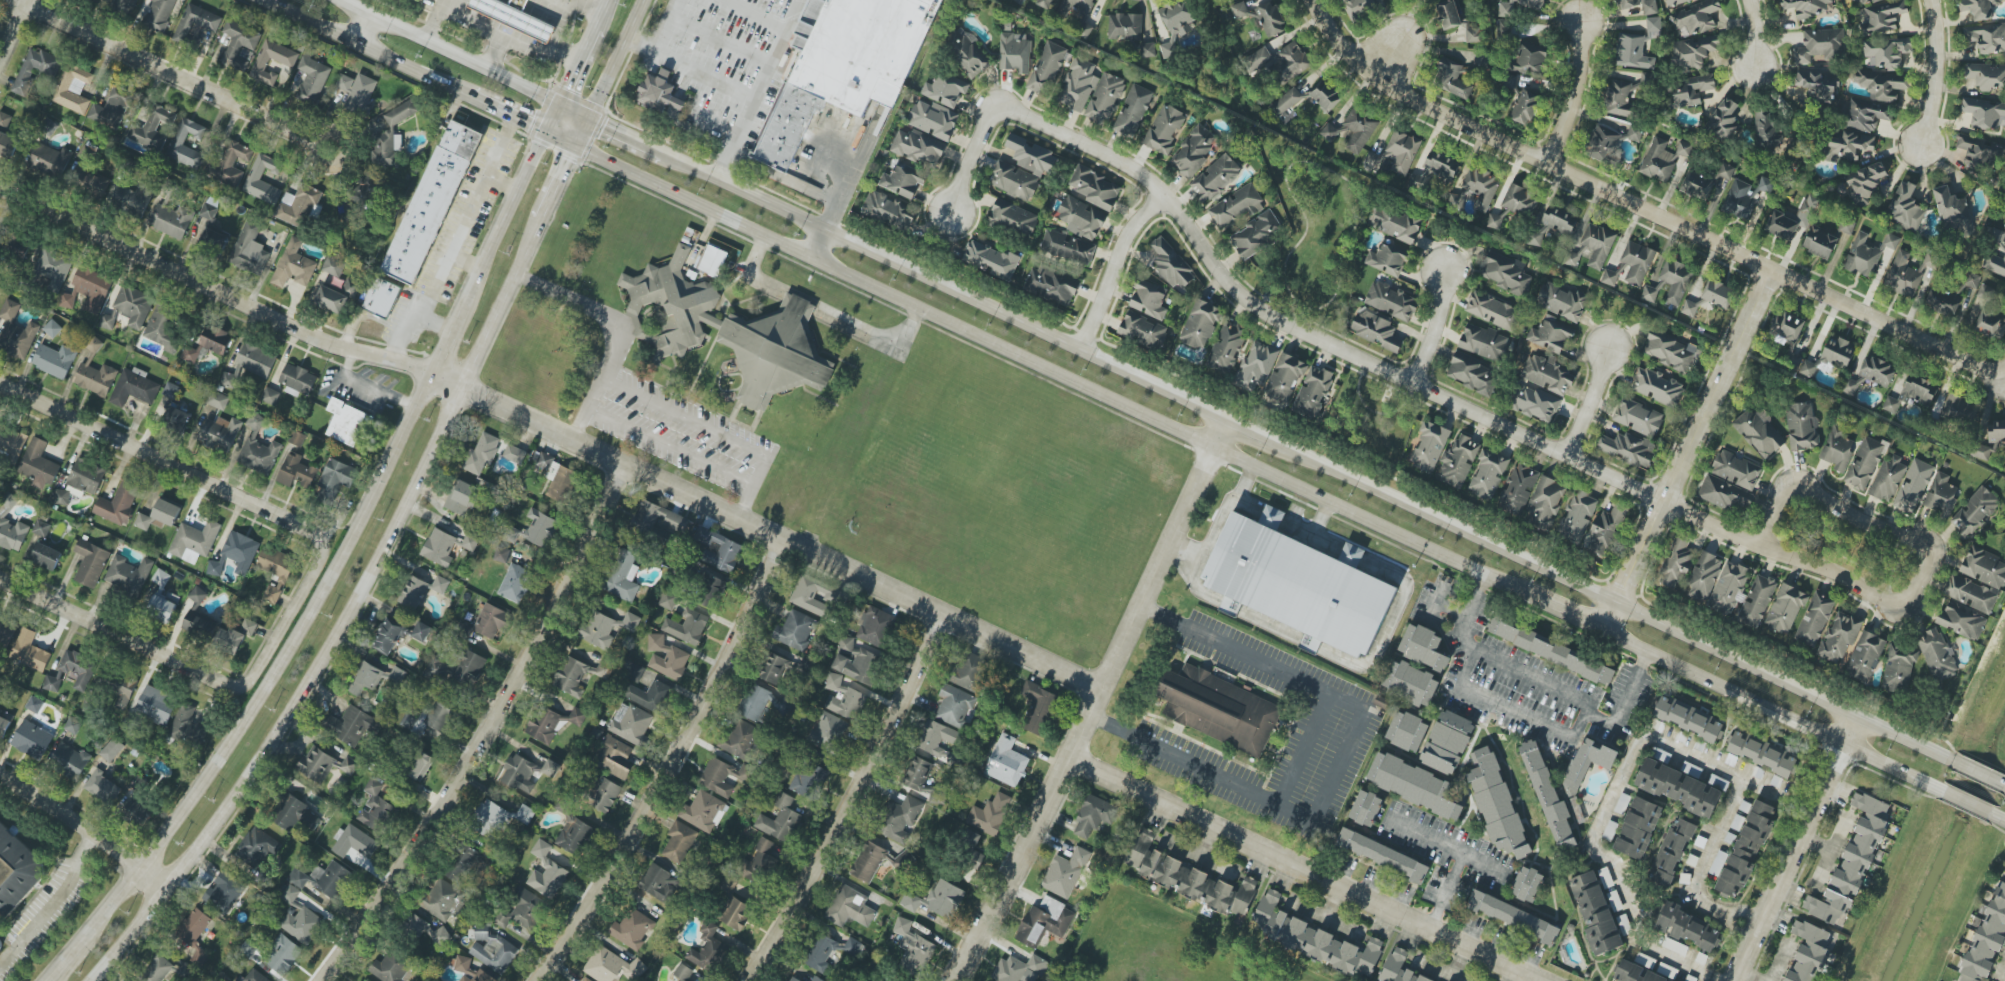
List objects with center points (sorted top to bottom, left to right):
building: (1018, 2)
building: (1675, 2)
building: (1861, 2)
building: (1044, 3)
building: (1627, 4)
building: (124, 6)
road: (587, 6)
building: (1507, 7)
building: (1649, 7)
building: (1805, 7)
building: (1077, 8)
building: (1360, 8)
building: (159, 14)
building: (1448, 14)
road: (755, 15)
building: (1261, 16)
building: (514, 17)
building: (1694, 18)
building: (1882, 18)
road: (435, 20)
building: (196, 22)
road: (668, 24)
road: (558, 25)
building: (1176, 26)
road: (12, 27)
road: (362, 28)
building: (1126, 28)
building: (1506, 28)
building: (1654, 28)
building: (1473, 34)
road: (1755, 34)
road: (510, 35)
building: (1989, 38)
road: (720, 40)
building: (239, 43)
building: (1819, 45)
road: (368, 48)
building: (1148, 49)
road: (494, 50)
road: (448, 51)
building: (1693, 51)
road: (583, 52)
building: (1015, 52)
road: (1396, 52)
building: (1633, 52)
building: (1886, 52)
building: (969, 56)
parking lot: (728, 59)
building: (1530, 59)
building: (1278, 62)
building: (288, 63)
road: (689, 65)
building: (843, 68)
building: (35, 69)
building: (1046, 69)
road: (163, 70)
road: (764, 73)
building: (1986, 75)
road: (1937, 77)
building: (312, 79)
building: (1453, 79)
building: (1510, 82)
building: (1881, 84)
building: (1077, 85)
building: (1817, 86)
building: (74, 88)
building: (945, 89)
building: (1691, 90)
building: (356, 91)
building: (660, 95)
building: (1325, 96)
road: (1577, 96)
building: (1620, 98)
building: (1105, 99)
traffic signals: (558, 104)
building: (1286, 105)
building: (1525, 107)
building: (111, 108)
road: (572, 110)
building: (1133, 111)
building: (1984, 112)
road: (508, 114)
building: (1865, 116)
traffic signals: (587, 117)
road: (551, 118)
building: (1723, 118)
building: (933, 119)
building: (1767, 128)
building: (1164, 129)
building: (1359, 129)
building: (1330, 131)
traffic signals: (545, 132)
building: (391, 135)
road: (625, 135)
building: (6, 137)
road: (559, 138)
building: (1609, 142)
building: (178, 143)
traffic signals: (574, 145)
building: (1848, 145)
building: (918, 147)
building: (1193, 150)
road: (312, 151)
building: (1400, 152)
building: (1978, 152)
building: (1662, 159)
building: (50, 161)
building: (232, 162)
road: (723, 163)
building: (1023, 168)
road: (1330, 171)
building: (1433, 171)
building: (1726, 171)
building: (254, 177)
building: (1215, 178)
building: (902, 181)
building: (96, 184)
road: (848, 185)
building: (1697, 185)
building: (1765, 185)
building: (1481, 186)
building: (1094, 187)
building: (130, 199)
building: (1520, 200)
building: (1738, 200)
building: (431, 202)
road: (1626, 202)
building: (1236, 207)
building: (1905, 207)
building: (209, 208)
building: (889, 211)
building: (1953, 211)
building: (1014, 218)
building: (1081, 218)
building: (1792, 219)
building: (172, 220)
building: (1396, 224)
building: (1552, 226)
building: (2004, 228)
park: (1313, 231)
building: (1256, 234)
road: (452, 238)
building: (214, 239)
building: (1819, 243)
road: (820, 244)
building: (1597, 244)
building: (1068, 247)
building: (249, 250)
building: (1866, 253)
building: (1996, 253)
building: (1573, 258)
building: (712, 260)
building: (991, 260)
building: (1387, 260)
building: (1637, 262)
building: (294, 265)
building: (1172, 265)
building: (334, 266)
building: (53, 268)
road: (1117, 270)
building: (1908, 272)
building: (1506, 275)
building: (1611, 276)
building: (1670, 283)
road: (944, 286)
building: (1050, 286)
building: (88, 289)
building: (1986, 292)
building: (1937, 293)
building: (1718, 294)
building: (336, 296)
building: (382, 297)
building: (1149, 300)
building: (1390, 301)
building: (1561, 301)
building: (129, 308)
road: (821, 310)
building: (1492, 310)
building: (1991, 322)
building: (1200, 324)
road: (624, 326)
building: (1787, 326)
building: (52, 328)
building: (163, 328)
road: (1436, 328)
building: (1142, 330)
building: (1376, 330)
building: (16, 332)
building: (730, 332)
building: (1550, 335)
building: (1483, 342)
building: (209, 343)
building: (95, 345)
building: (1226, 348)
building: (1671, 351)
building: (54, 360)
building: (250, 365)
building: (1255, 367)
building: (1807, 369)
road: (1987, 369)
building: (1473, 374)
road: (1059, 375)
building: (1547, 375)
building: (1870, 376)
building: (96, 379)
building: (1284, 379)
building: (297, 380)
road: (1415, 382)
road: (370, 384)
building: (1656, 387)
building: (134, 388)
building: (170, 390)
building: (1313, 392)
building: (1913, 393)
building: (270, 396)
building: (219, 400)
road: (1589, 403)
building: (1536, 404)
building: (1959, 409)
road: (1369, 410)
building: (1638, 418)
building: (177, 419)
park: (1366, 419)
building: (345, 422)
road: (707, 425)
building: (1801, 426)
road: (553, 430)
building: (1996, 431)
building: (1760, 432)
parking lot: (676, 433)
road: (1257, 433)
building: (220, 435)
building: (297, 438)
building: (11, 441)
building: (1430, 445)
building: (1628, 448)
building: (1837, 449)
road: (674, 451)
road: (1688, 451)
building: (1980, 451)
building: (481, 454)
building: (516, 454)
building: (259, 455)
building: (1457, 462)
building: (1864, 463)
building: (38, 465)
building: (1736, 470)
building: (296, 471)
building: (1488, 474)
building: (86, 478)
road: (200, 478)
building: (557, 478)
building: (335, 479)
building: (1887, 479)
building: (1913, 486)
building: (1519, 489)
building: (1725, 494)
building: (1940, 494)
building: (62, 497)
building: (461, 497)
road: (1822, 498)
building: (119, 503)
building: (1545, 503)
road: (747, 504)
road: (401, 511)
building: (1974, 512)
building: (160, 515)
building: (1577, 516)
building: (660, 520)
building: (11, 526)
building: (42, 529)
building: (1606, 529)
building: (534, 530)
building: (470, 542)
building: (439, 547)
building: (718, 549)
building: (236, 554)
building: (501, 555)
building: (46, 557)
building: (90, 563)
building: (1676, 563)
building: (1983, 567)
building: (276, 571)
building: (128, 574)
building: (1703, 576)
road: (329, 577)
building: (623, 577)
building: (515, 583)
building: (440, 584)
building: (1298, 584)
building: (1728, 588)
building: (709, 590)
building: (413, 592)
building: (1970, 593)
building: (198, 595)
building: (810, 596)
building: (668, 600)
road: (1432, 601)
building: (1757, 601)
road: (1615, 604)
building: (163, 606)
road: (1449, 608)
building: (1785, 609)
road: (1570, 616)
building: (1814, 619)
building: (492, 621)
building: (1962, 621)
building: (630, 622)
building: (199, 625)
building: (686, 626)
building: (875, 626)
building: (5, 630)
building: (598, 630)
building: (422, 631)
building: (795, 631)
building: (1839, 635)
building: (235, 636)
building: (388, 636)
building: (1423, 647)
building: (1550, 650)
building: (29, 651)
road: (157, 654)
building: (1938, 655)
building: (667, 657)
building: (1865, 657)
building: (857, 662)
building: (78, 668)
building: (436, 668)
building: (470, 668)
building: (1898, 669)
building: (775, 670)
building: (968, 670)
building: (635, 672)
building: (579, 674)
building: (374, 677)
building: (1410, 683)
building: (51, 684)
building: (122, 692)
building: (650, 696)
building: (843, 698)
building: (755, 702)
road: (1582, 702)
road: (1622, 702)
road: (1095, 703)
building: (34, 705)
building: (156, 705)
building: (954, 706)
building: (1038, 707)
road: (1765, 707)
building: (1219, 709)
building: (439, 715)
building: (1688, 719)
building: (552, 723)
building: (631, 723)
building: (185, 724)
building: (73, 725)
building: (349, 725)
building: (4, 726)
building: (1407, 731)
road: (489, 732)
building: (828, 732)
building: (937, 738)
building: (741, 739)
building: (32, 740)
building: (1447, 742)
building: (112, 750)
road: (1303, 750)
building: (1761, 754)
building: (1661, 755)
building: (614, 757)
building: (71, 758)
building: (1006, 762)
building: (1587, 763)
building: (316, 764)
building: (419, 765)
building: (349, 766)
road: (1339, 766)
road: (674, 767)
building: (551, 768)
building: (1691, 770)
road: (1975, 771)
building: (519, 773)
building: (724, 776)
building: (919, 777)
building: (809, 780)
building: (1413, 784)
building: (103, 787)
building: (1682, 788)
building: (605, 795)
building: (1549, 798)
road: (852, 801)
road: (1967, 802)
building: (138, 804)
building: (1497, 804)
building: (376, 807)
building: (1365, 808)
building: (703, 812)
road: (1604, 812)
building: (294, 814)
building: (990, 814)
building: (1094, 816)
building: (497, 818)
building: (899, 819)
road: (2002, 819)
building: (779, 820)
building: (1637, 828)
road: (85, 829)
building: (574, 835)
building: (354, 842)
building: (679, 842)
road: (1816, 844)
road: (1445, 845)
building: (257, 846)
road: (1795, 847)
river: (1942, 847)
road: (1710, 849)
building: (1746, 850)
building: (971, 851)
building: (1672, 851)
road: (1830, 852)
building: (1384, 855)
building: (903, 860)
building: (1852, 861)
building: (760, 862)
building: (868, 862)
building: (462, 864)
road: (1303, 869)
building: (16, 871)
building: (546, 872)
building: (1066, 873)
building: (1188, 878)
building: (659, 883)
building: (1527, 884)
building: (727, 885)
road: (1445, 891)
building: (224, 892)
building: (937, 899)
building: (444, 900)
road: (51, 903)
building: (297, 905)
road: (1969, 906)
building: (849, 907)
building: (523, 911)
building: (1595, 912)
road: (1742, 912)
building: (736, 913)
building: (1513, 916)
building: (1044, 921)
building: (1687, 927)
road: (1733, 928)
building: (632, 929)
building: (428, 931)
building: (194, 934)
building: (1312, 937)
building: (1987, 938)
building: (1, 943)
building: (1674, 946)
park: (1159, 947)
building: (913, 948)
building: (492, 949)
building: (708, 949)
building: (830, 951)
building: (1808, 951)
building: (283, 955)
road: (1782, 961)
building: (612, 966)
building: (392, 967)
building: (1399, 968)
building: (1020, 969)
building: (157, 970)
building: (185, 970)
building: (469, 971)
building: (683, 972)
building: (1635, 973)
road: (1749, 975)
building: (795, 978)
building: (584, 979)
building: (816, 979)
building: (366, 980)

